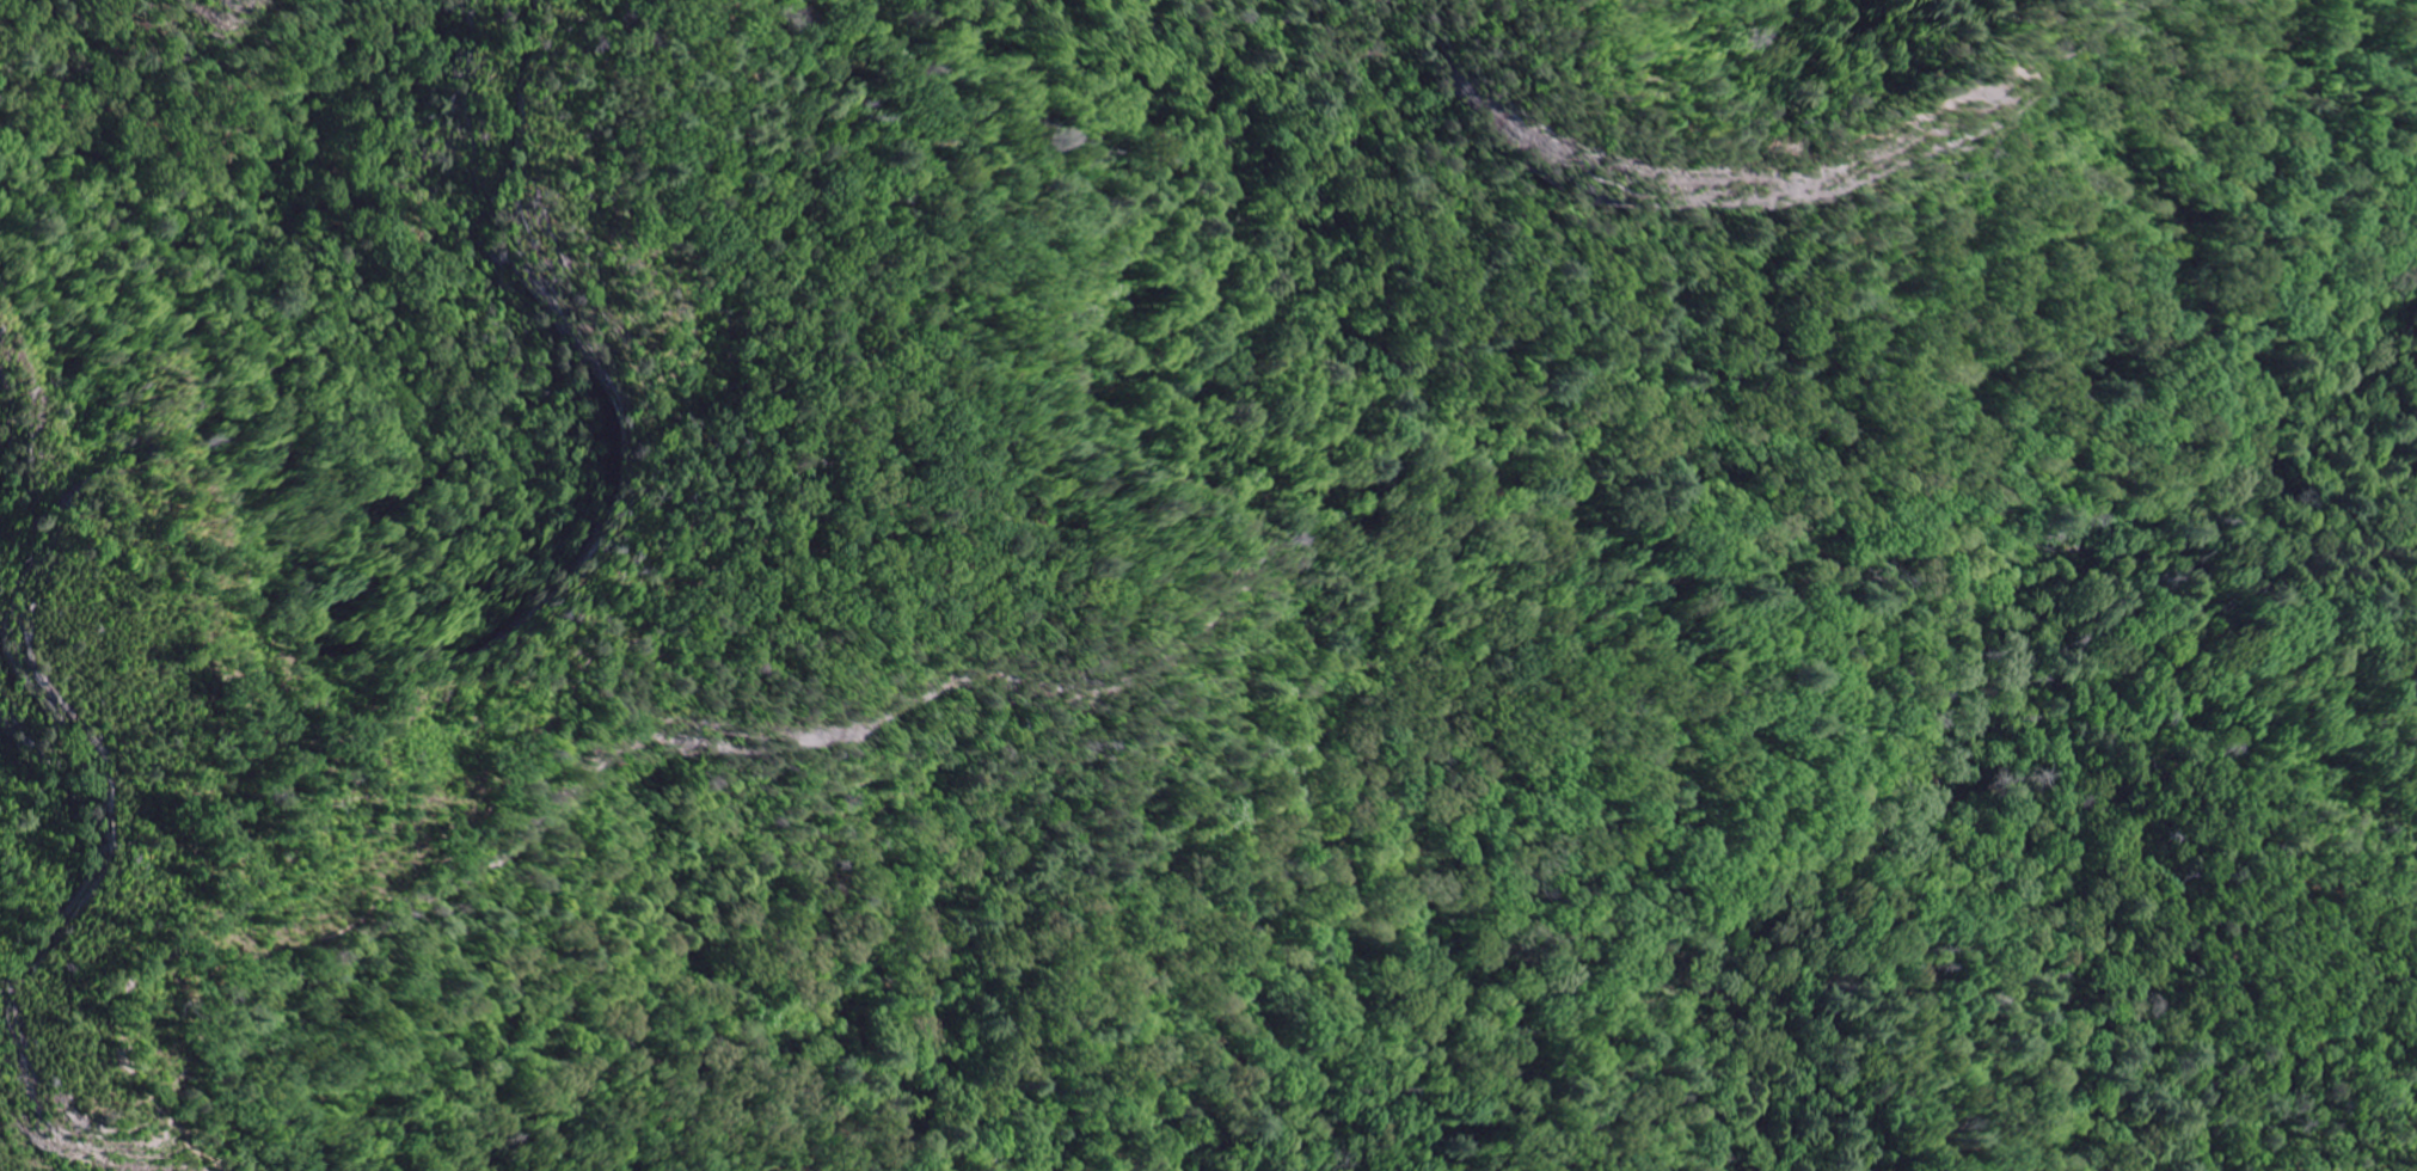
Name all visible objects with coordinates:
road: (1712, 123)
road: (1299, 409)
road: (627, 634)
road: (1907, 802)
road: (2080, 986)

